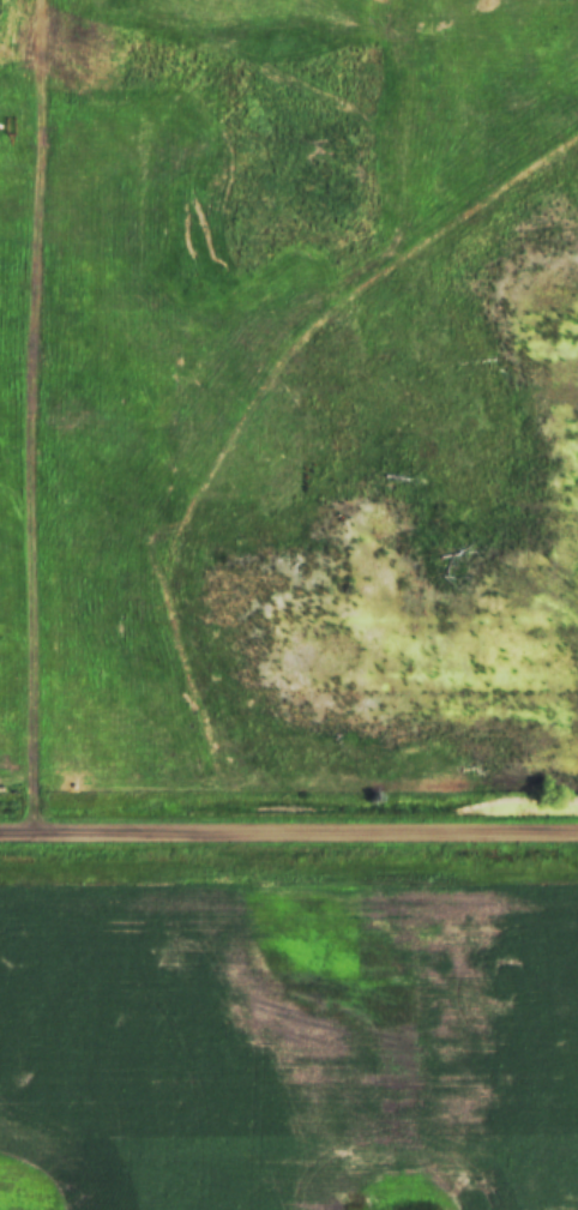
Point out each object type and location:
road: (288, 835)

